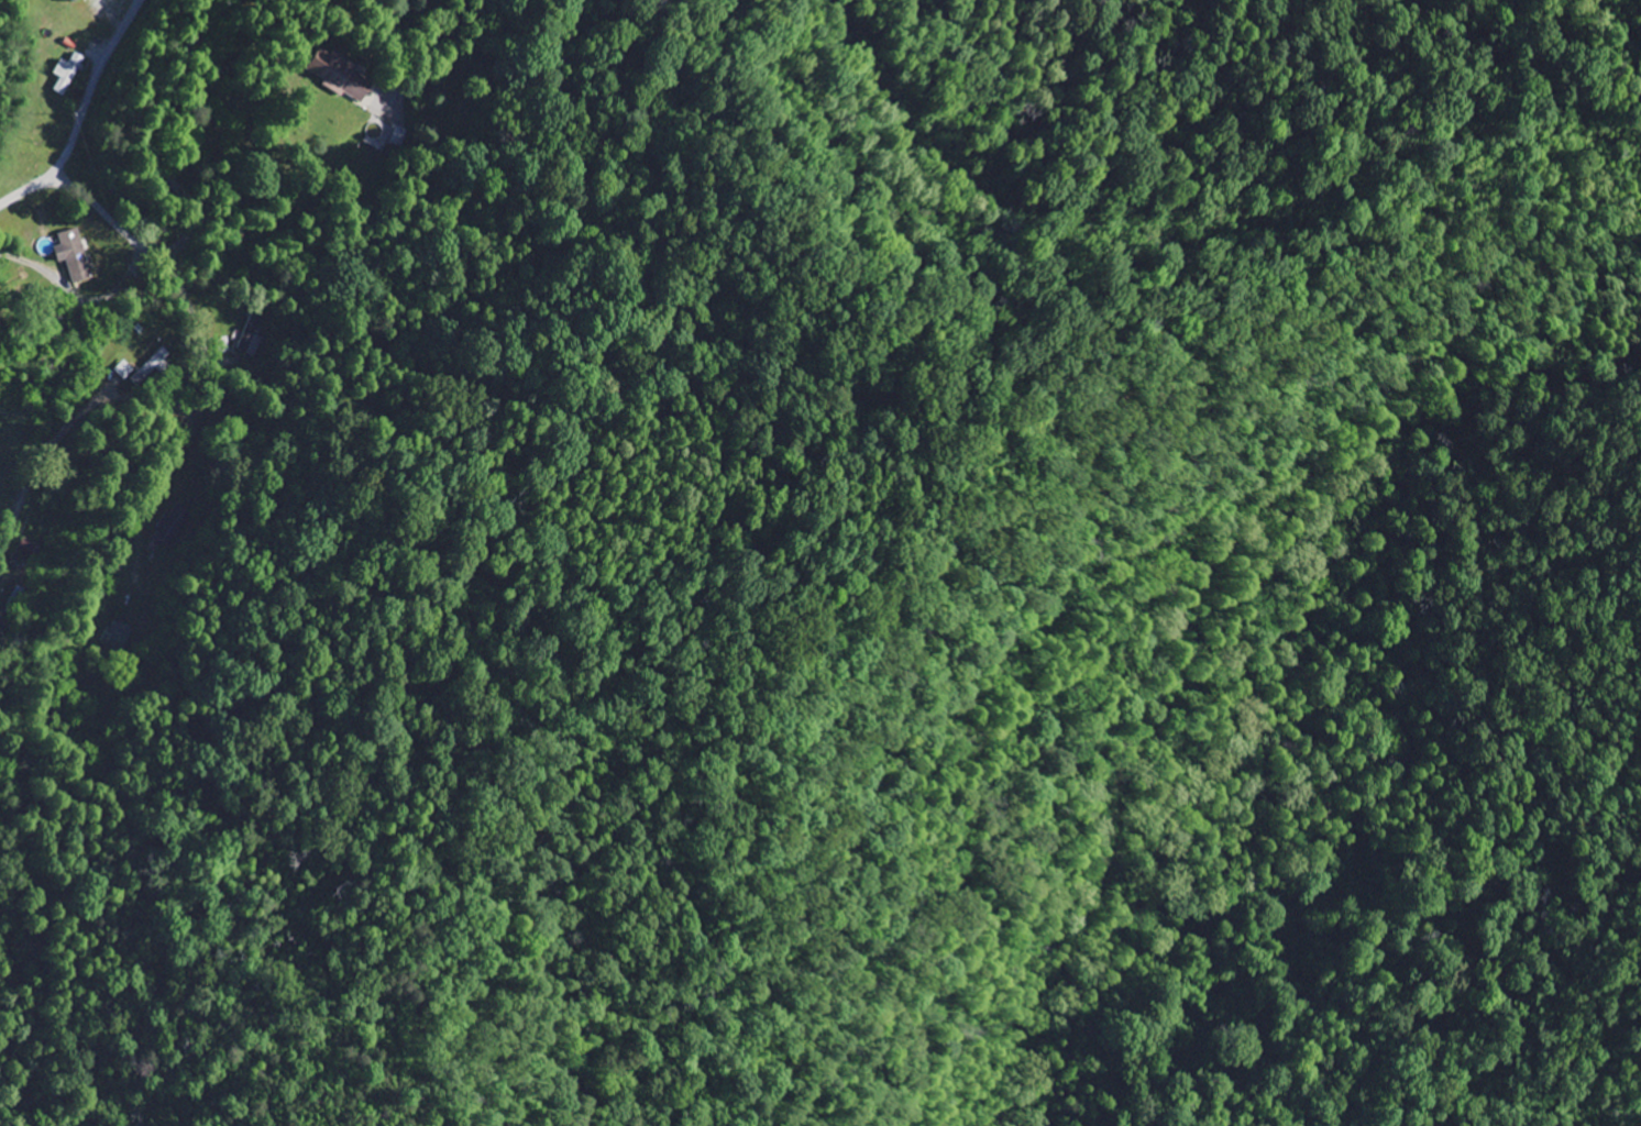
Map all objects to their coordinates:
building: (65, 0)
road: (389, 32)
building: (64, 71)
building: (335, 73)
road: (82, 114)
building: (399, 135)
road: (143, 141)
road: (78, 189)
building: (73, 254)
building: (249, 336)
building: (150, 366)
building: (122, 368)
road: (74, 401)
road: (198, 503)
building: (169, 525)
building: (113, 634)
road: (13, 733)

